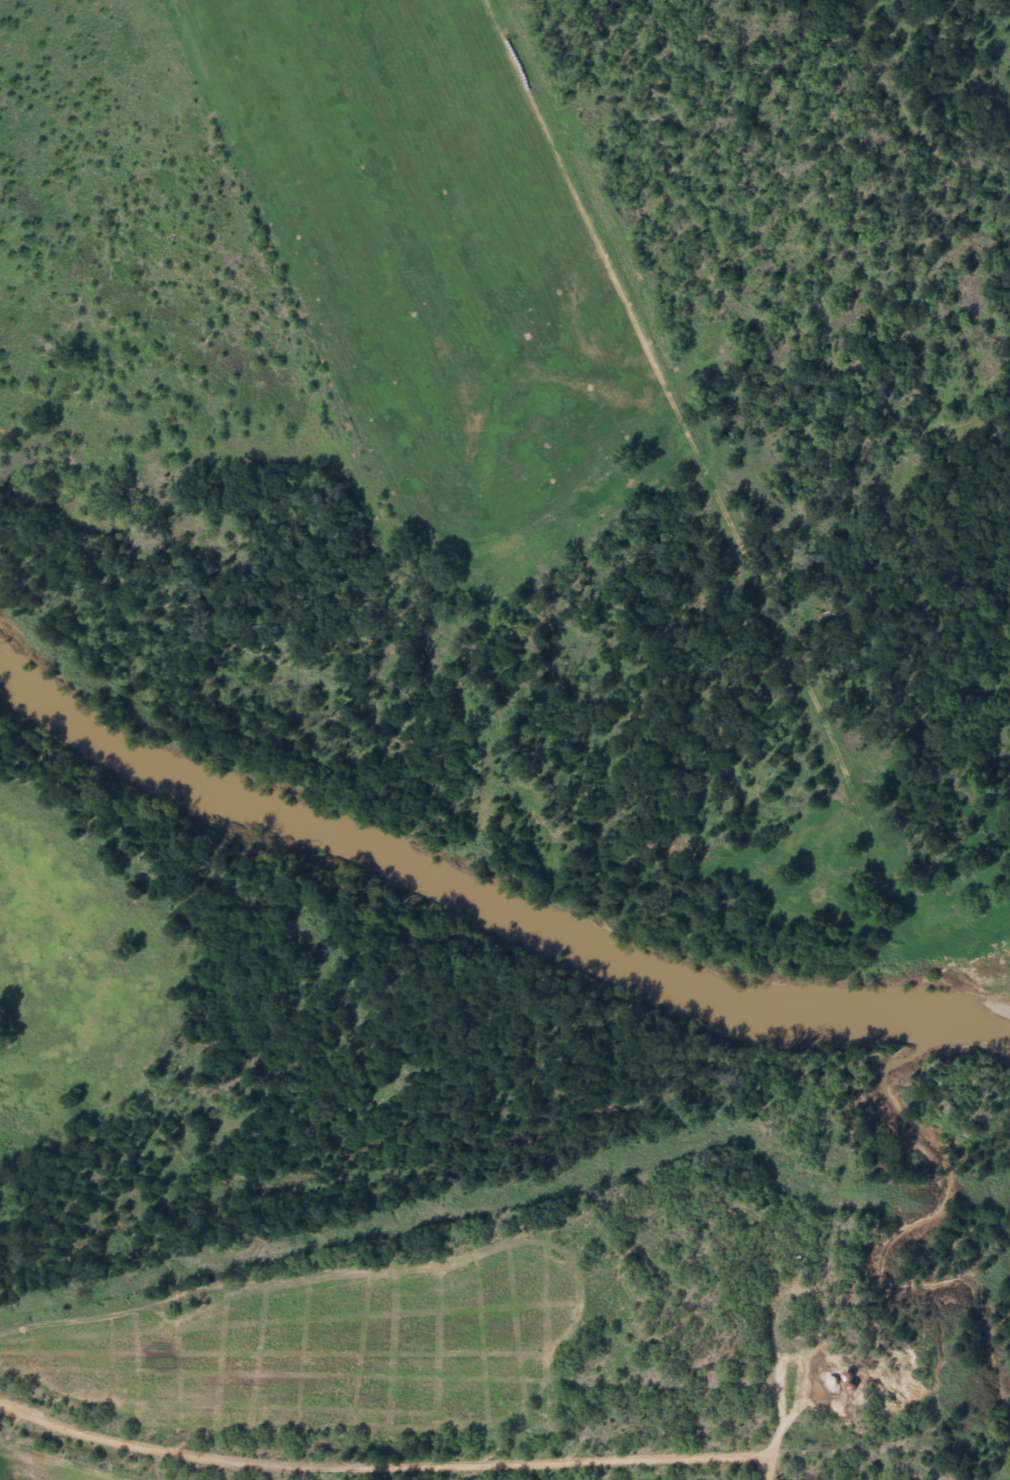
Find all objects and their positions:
river: (487, 915)
road: (503, 1253)
railway: (501, 1461)

